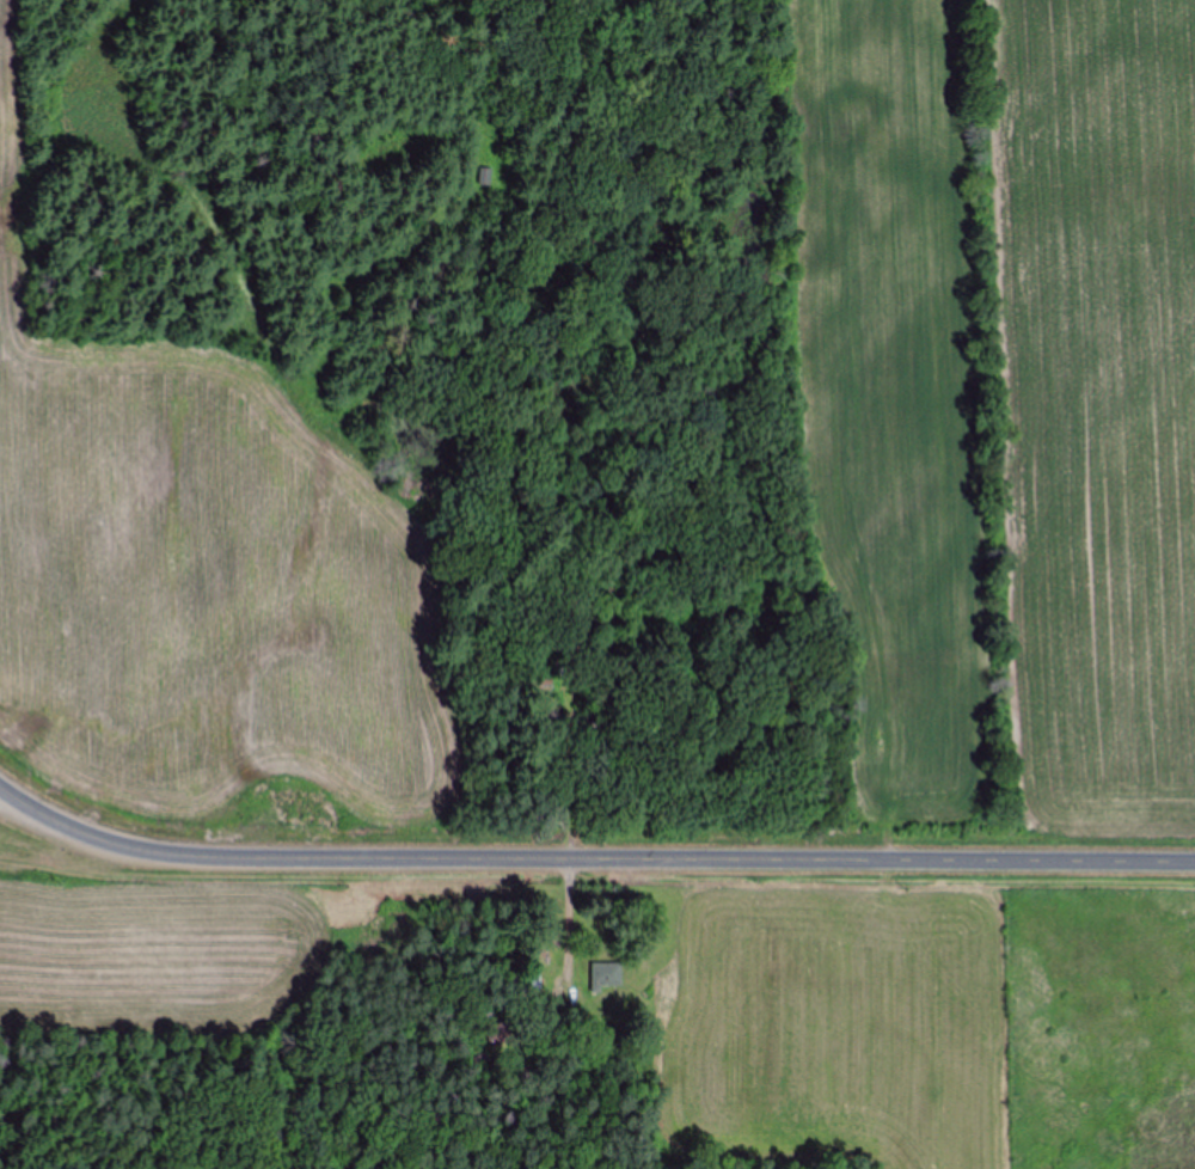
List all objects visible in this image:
building: (484, 177)
road: (589, 859)
building: (600, 977)
building: (526, 984)
building: (500, 1034)

